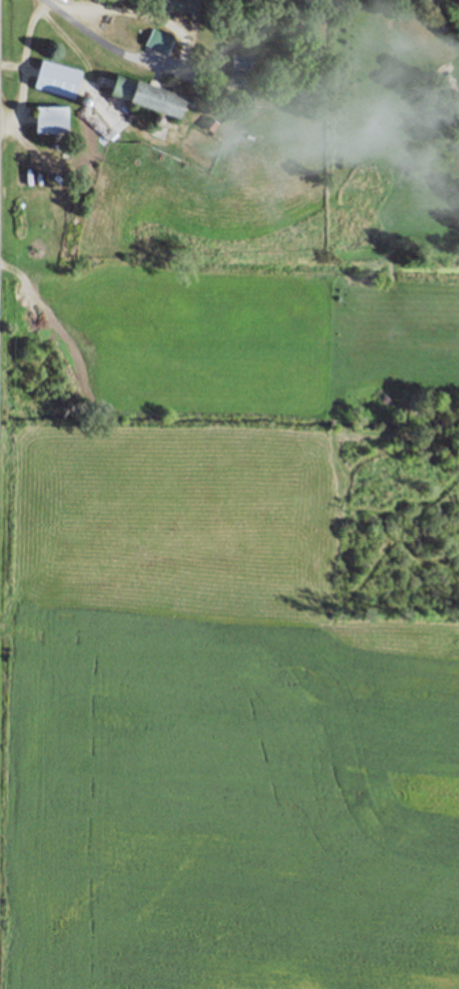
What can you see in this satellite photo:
building: (180, 5)
road: (100, 39)
building: (158, 40)
road: (12, 64)
road: (24, 67)
building: (239, 68)
building: (58, 78)
building: (152, 97)
building: (51, 118)
building: (211, 123)

